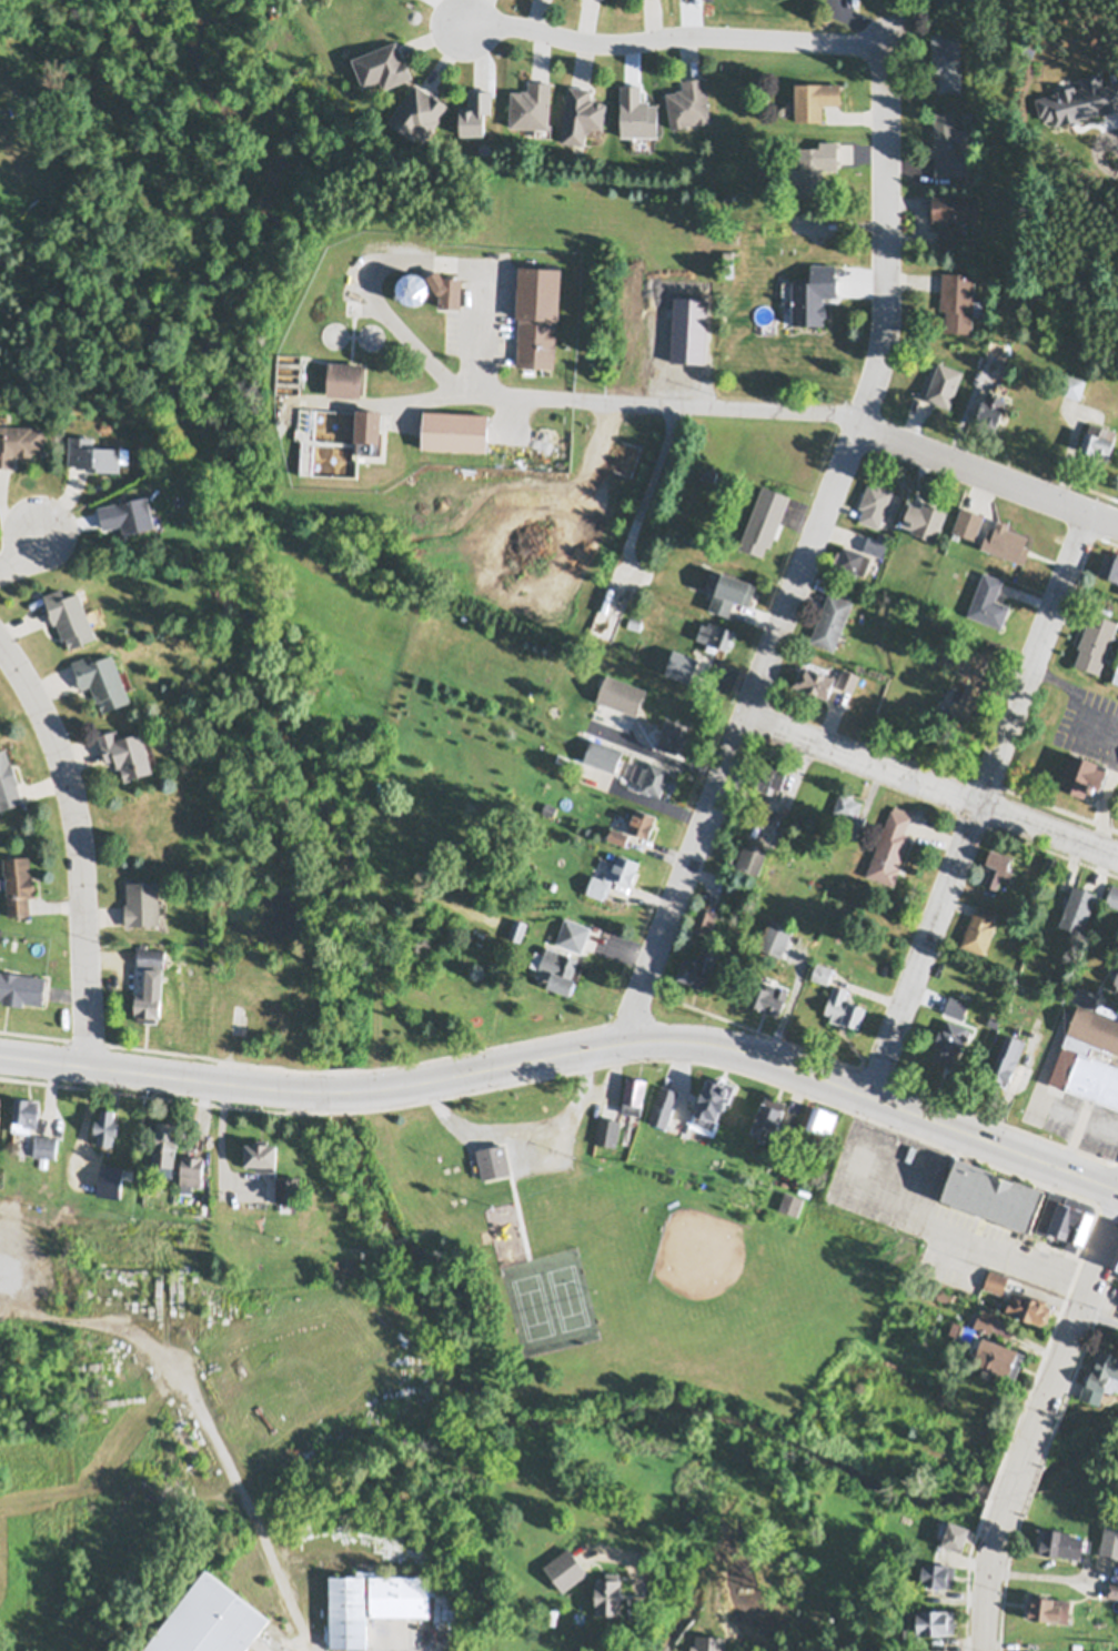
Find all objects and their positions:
building: (955, 0)
road: (674, 34)
building: (946, 60)
building: (383, 69)
building: (814, 102)
building: (688, 105)
building: (531, 108)
building: (419, 115)
building: (581, 118)
building: (947, 144)
building: (814, 170)
building: (728, 198)
building: (953, 217)
building: (775, 240)
road: (425, 258)
building: (413, 288)
building: (450, 288)
building: (958, 303)
building: (665, 312)
building: (537, 313)
building: (995, 343)
building: (675, 348)
building: (999, 352)
building: (345, 373)
building: (1069, 380)
building: (941, 383)
road: (420, 396)
building: (990, 404)
road: (854, 416)
building: (369, 422)
building: (454, 426)
building: (1098, 434)
building: (20, 436)
building: (95, 447)
building: (708, 474)
building: (874, 505)
building: (129, 507)
building: (764, 519)
building: (924, 519)
building: (966, 523)
road: (816, 532)
building: (1006, 541)
building: (874, 548)
road: (26, 554)
building: (852, 561)
building: (1109, 564)
building: (731, 588)
building: (988, 598)
building: (71, 608)
building: (830, 621)
building: (634, 624)
building: (715, 633)
building: (1096, 640)
building: (973, 655)
building: (682, 663)
building: (1116, 672)
building: (102, 673)
building: (814, 678)
building: (847, 678)
building: (1116, 679)
building: (621, 694)
building: (965, 696)
building: (672, 733)
building: (127, 745)
building: (603, 754)
building: (1084, 767)
building: (772, 772)
building: (654, 775)
building: (8, 778)
road: (931, 786)
road: (978, 801)
building: (548, 808)
building: (850, 811)
building: (641, 819)
building: (617, 834)
road: (79, 845)
building: (890, 845)
building: (752, 853)
building: (731, 856)
building: (1051, 862)
building: (998, 865)
building: (613, 874)
building: (18, 880)
building: (1112, 894)
building: (142, 896)
building: (1077, 905)
building: (704, 917)
building: (517, 927)
building: (979, 927)
building: (573, 933)
building: (774, 936)
building: (557, 965)
building: (697, 966)
building: (822, 969)
building: (150, 978)
building: (1116, 979)
building: (21, 984)
building: (768, 995)
building: (844, 1005)
building: (956, 1006)
building: (994, 1020)
building: (949, 1038)
building: (1089, 1044)
building: (1008, 1053)
road: (570, 1054)
building: (633, 1093)
building: (711, 1101)
building: (663, 1104)
building: (0, 1108)
building: (24, 1110)
building: (772, 1118)
building: (819, 1119)
building: (104, 1121)
building: (607, 1130)
road: (522, 1131)
building: (165, 1137)
building: (44, 1144)
building: (262, 1148)
building: (493, 1159)
building: (860, 1160)
building: (191, 1168)
building: (110, 1178)
building: (288, 1182)
building: (993, 1191)
building: (790, 1202)
building: (1071, 1218)
road: (998, 1249)
park: (620, 1259)
building: (1117, 1259)
building: (996, 1279)
building: (943, 1293)
park: (738, 1295)
park: (550, 1301)
building: (1030, 1303)
building: (990, 1319)
road: (29, 1327)
road: (1068, 1339)
building: (996, 1350)
building: (1100, 1371)
road: (1015, 1482)
building: (953, 1530)
building: (1059, 1538)
building: (584, 1552)
building: (938, 1570)
road: (988, 1571)
building: (1112, 1588)
building: (608, 1590)
road: (638, 1597)
building: (373, 1598)
building: (1048, 1605)
building: (209, 1615)
building: (928, 1618)
road: (299, 1648)

